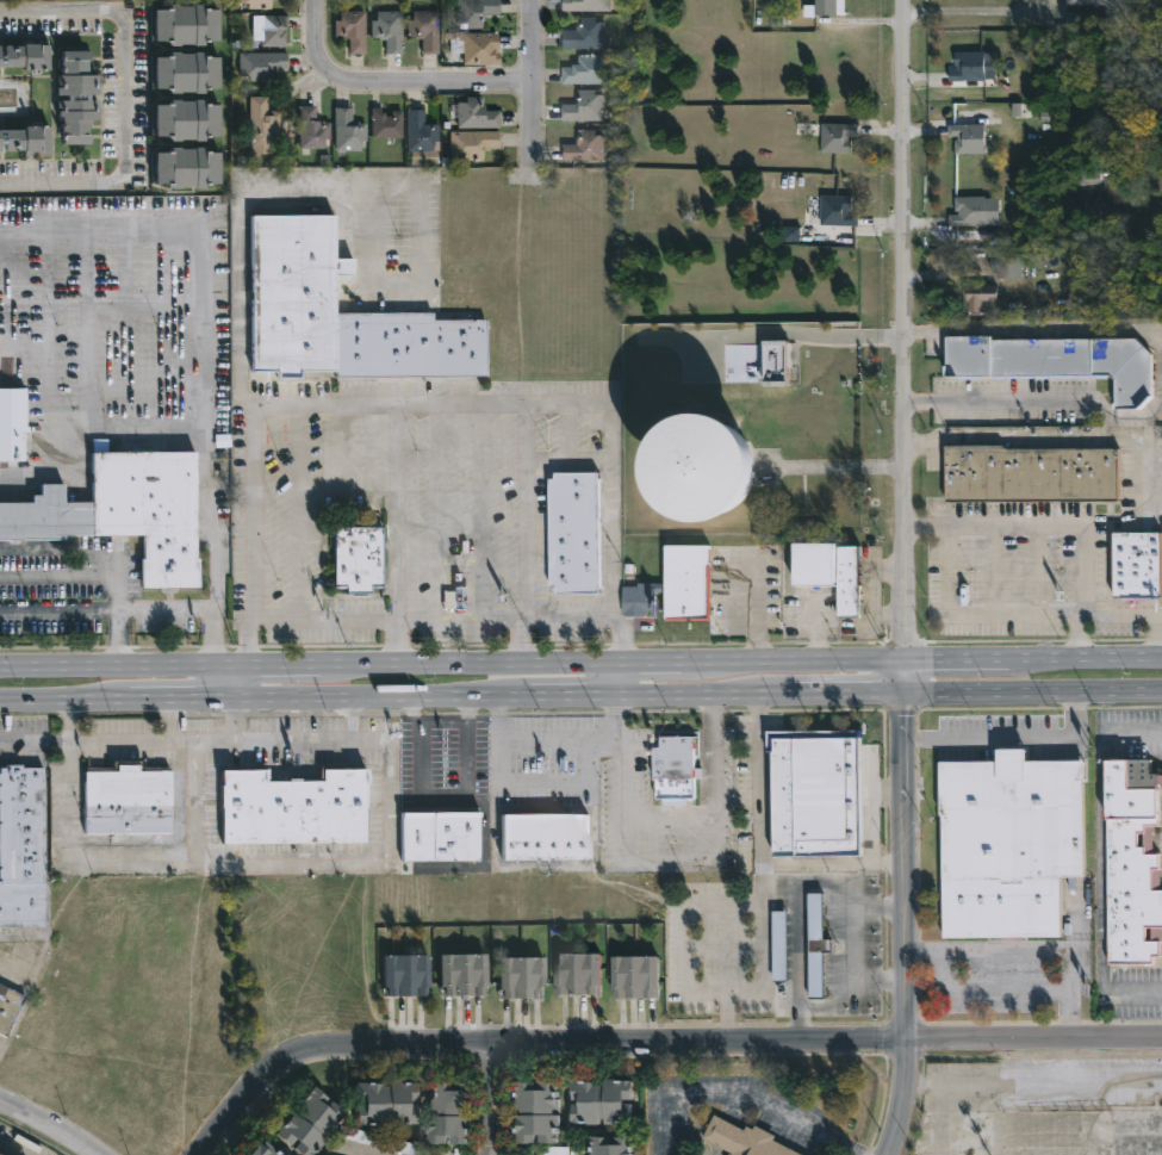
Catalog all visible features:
building: (1092, 2)
building: (259, 4)
building: (588, 5)
building: (827, 7)
road: (973, 11)
building: (477, 12)
building: (185, 25)
building: (352, 30)
building: (390, 30)
building: (427, 30)
building: (276, 31)
building: (585, 33)
building: (483, 50)
building: (27, 58)
building: (263, 66)
building: (967, 67)
building: (588, 70)
building: (185, 73)
road: (392, 81)
road: (534, 86)
building: (77, 98)
road: (124, 98)
building: (586, 107)
building: (477, 114)
building: (185, 122)
building: (389, 125)
building: (265, 126)
building: (313, 129)
building: (349, 131)
building: (422, 131)
building: (835, 137)
building: (965, 138)
building: (25, 141)
building: (476, 144)
building: (586, 147)
building: (186, 168)
road: (334, 187)
building: (835, 211)
building: (968, 211)
road: (197, 232)
building: (791, 234)
building: (1005, 265)
building: (980, 297)
building: (347, 315)
road: (903, 329)
building: (768, 359)
building: (1054, 359)
road: (1003, 400)
road: (428, 404)
road: (203, 430)
road: (1033, 436)
building: (17, 443)
water tower: (744, 460)
building: (706, 467)
road: (344, 471)
building: (1032, 474)
road: (321, 486)
building: (126, 511)
road: (524, 511)
road: (298, 513)
road: (479, 513)
road: (394, 514)
road: (1060, 527)
building: (580, 530)
building: (362, 558)
building: (1133, 563)
building: (840, 570)
road: (106, 575)
building: (683, 584)
road: (167, 609)
road: (756, 615)
road: (58, 616)
road: (1008, 616)
road: (431, 622)
road: (1157, 635)
road: (517, 645)
road: (394, 646)
road: (1087, 658)
road: (958, 660)
road: (762, 663)
road: (309, 669)
road: (903, 676)
road: (620, 682)
road: (228, 687)
road: (1032, 691)
road: (844, 693)
road: (702, 695)
road: (574, 696)
road: (379, 700)
road: (179, 702)
road: (64, 704)
road: (350, 719)
road: (169, 720)
road: (229, 720)
road: (68, 722)
road: (1007, 735)
road: (33, 737)
road: (536, 740)
building: (678, 768)
building: (819, 791)
road: (442, 799)
building: (126, 800)
building: (294, 807)
road: (871, 813)
road: (667, 818)
building: (440, 836)
building: (551, 837)
building: (1005, 843)
building: (25, 846)
road: (390, 855)
building: (1129, 861)
road: (900, 864)
road: (831, 867)
road: (1098, 868)
road: (760, 882)
building: (779, 945)
building: (816, 945)
road: (1027, 946)
building: (584, 974)
building: (410, 975)
building: (465, 975)
building: (524, 976)
building: (642, 977)
building: (7, 1006)
road: (1033, 1037)
road: (532, 1045)
road: (741, 1097)
road: (903, 1097)
road: (492, 1100)
building: (608, 1101)
building: (391, 1104)
building: (537, 1110)
building: (456, 1112)
building: (315, 1123)
road: (50, 1131)
building: (745, 1140)
building: (380, 1142)
building: (619, 1145)
road: (10, 1149)
building: (269, 1150)
building: (287, 1154)

